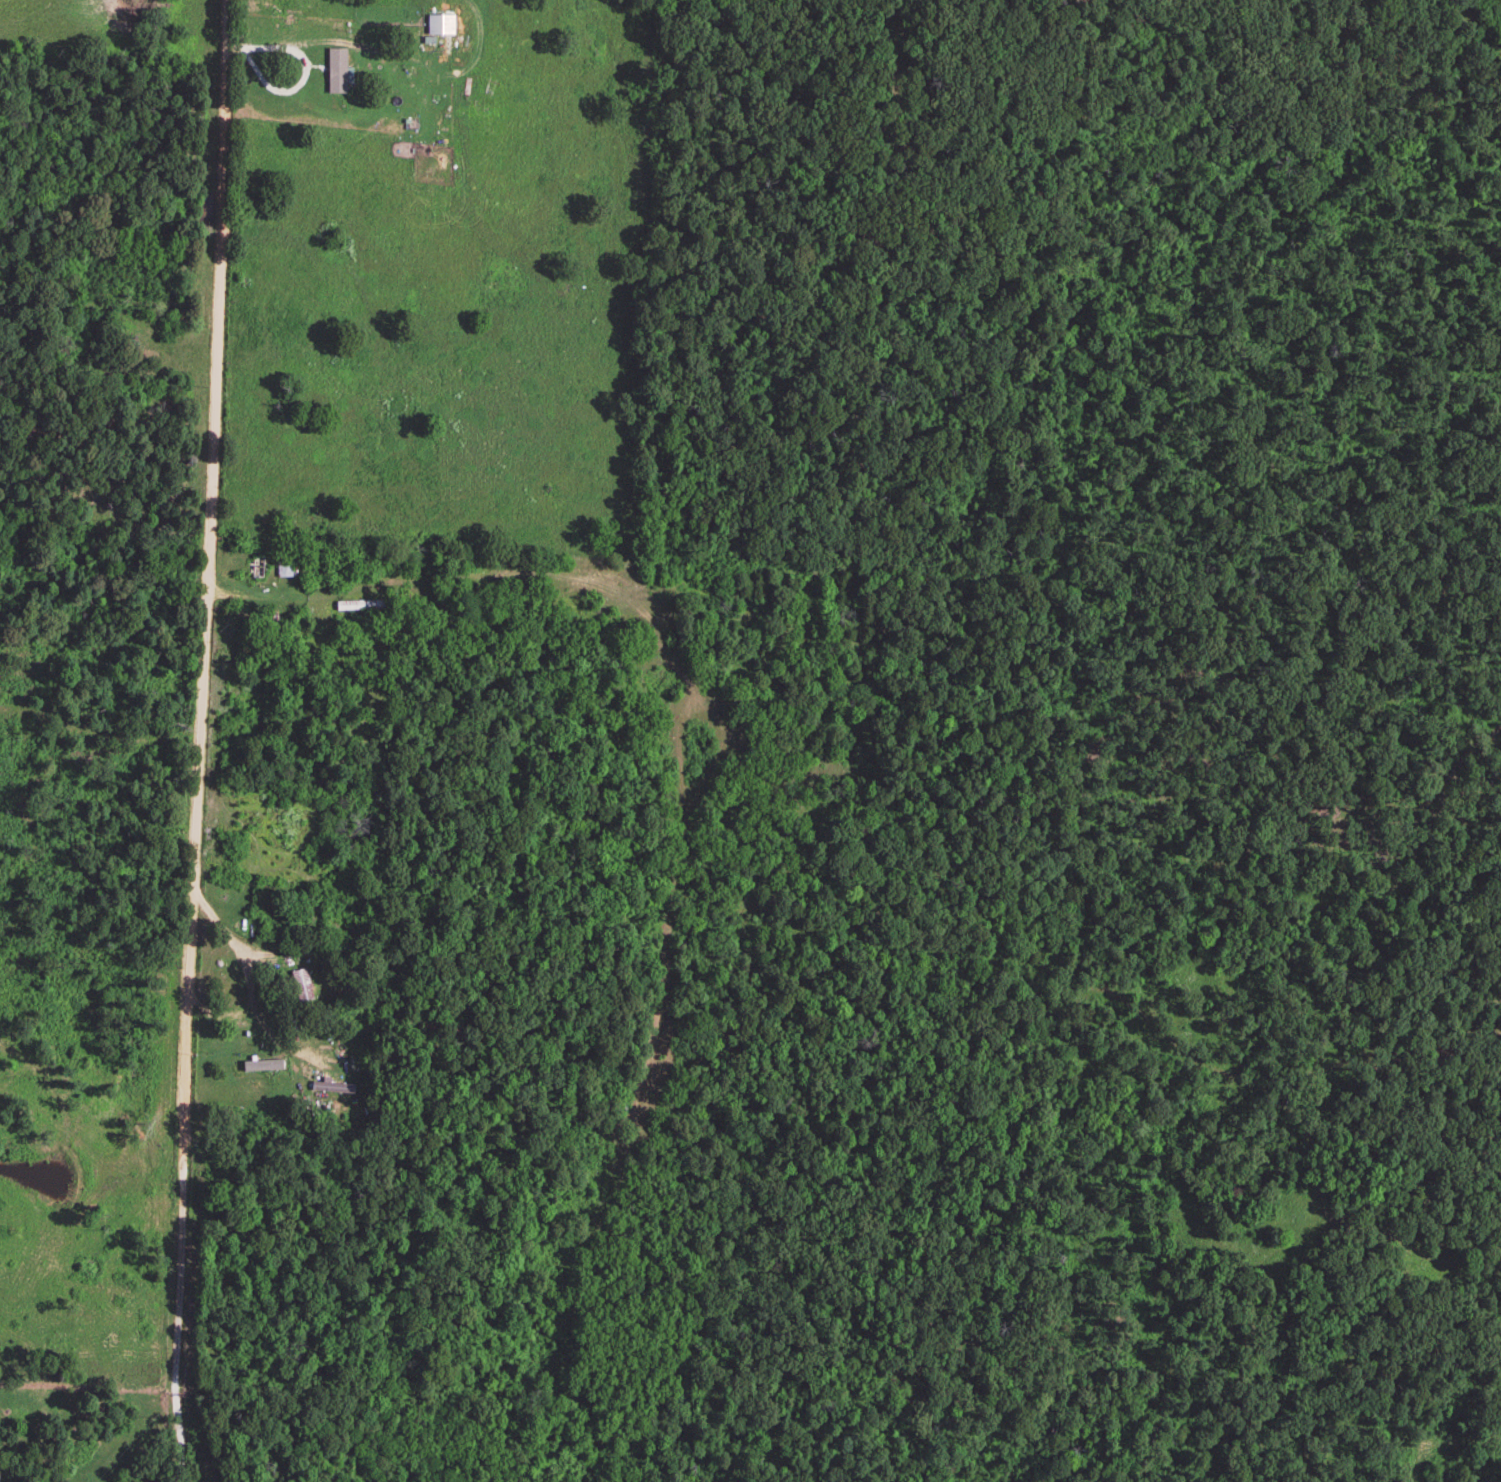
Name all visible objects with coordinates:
building: (451, 16)
road: (216, 437)
building: (259, 566)
building: (283, 570)
building: (299, 986)
road: (211, 1001)
building: (255, 1068)
building: (331, 1089)
road: (186, 1227)

